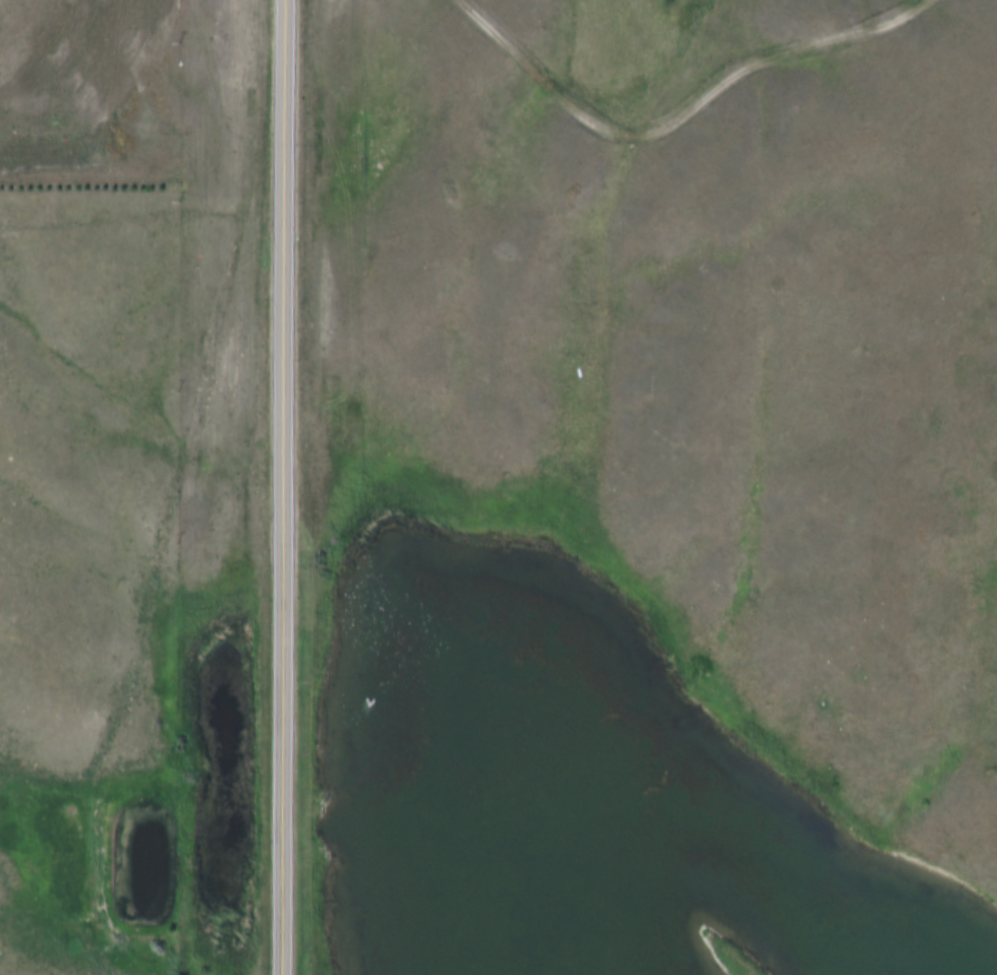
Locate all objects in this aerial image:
quarry: (93, 92)
road: (681, 119)
road: (287, 289)
road: (287, 758)
road: (286, 956)

